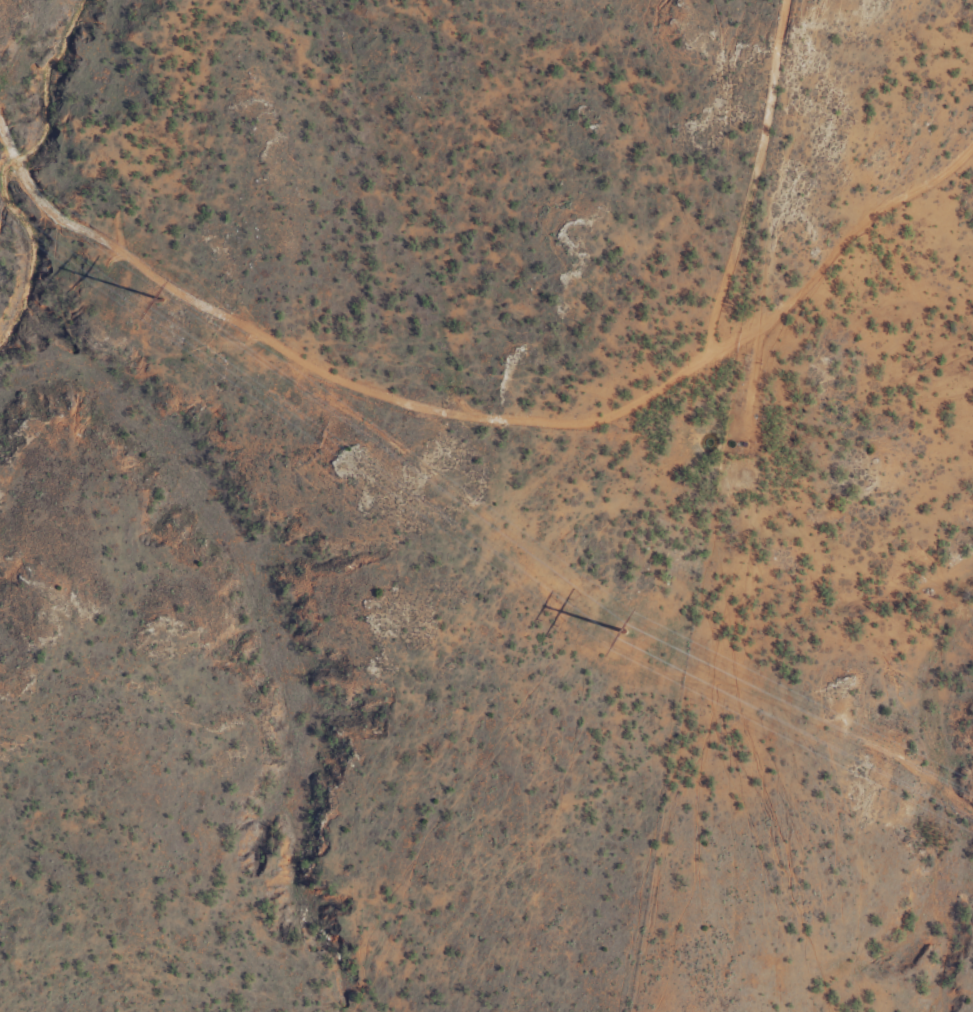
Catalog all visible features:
road: (758, 177)
power tower: (163, 299)
road: (485, 411)
power tower: (623, 630)

